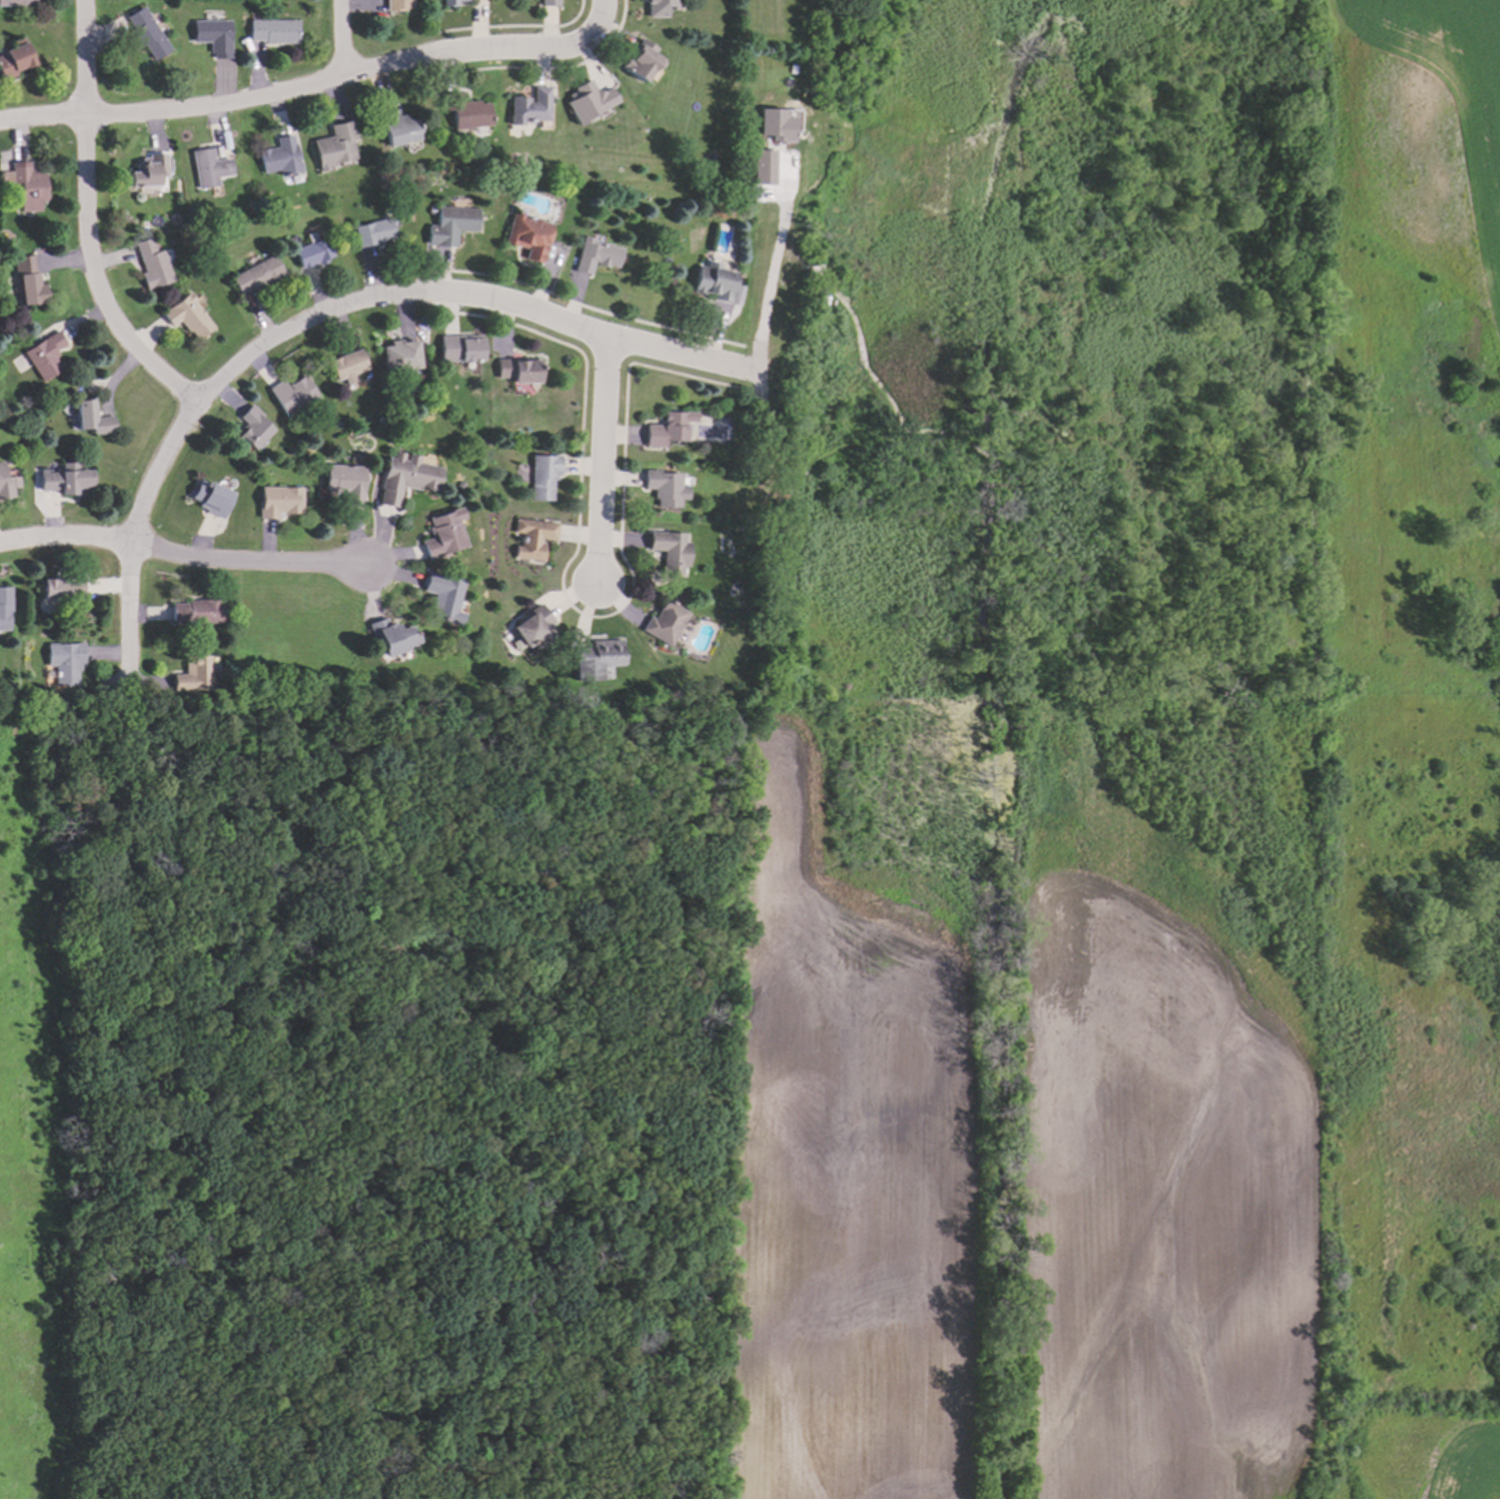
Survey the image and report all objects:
building: (17, 1)
building: (447, 3)
building: (546, 3)
building: (397, 4)
building: (652, 6)
building: (271, 29)
building: (146, 33)
building: (213, 35)
road: (339, 36)
building: (15, 57)
building: (637, 58)
road: (313, 81)
building: (586, 101)
building: (527, 104)
building: (465, 111)
building: (775, 125)
building: (393, 126)
building: (332, 145)
building: (275, 156)
building: (205, 167)
building: (763, 168)
building: (145, 171)
building: (28, 186)
building: (679, 207)
road: (91, 222)
building: (448, 225)
building: (369, 232)
building: (525, 235)
building: (308, 249)
building: (595, 253)
building: (150, 264)
building: (258, 272)
building: (712, 280)
building: (26, 284)
road: (767, 287)
building: (184, 315)
road: (321, 317)
building: (462, 348)
building: (42, 355)
building: (397, 357)
building: (346, 363)
building: (521, 371)
building: (27, 372)
building: (291, 395)
building: (64, 407)
building: (87, 415)
building: (667, 426)
building: (252, 427)
road: (606, 463)
building: (545, 474)
building: (404, 476)
building: (66, 479)
building: (345, 482)
building: (4, 484)
building: (664, 486)
building: (210, 497)
building: (277, 500)
building: (443, 534)
building: (533, 537)
building: (668, 549)
road: (184, 555)
building: (59, 588)
building: (441, 597)
building: (6, 607)
building: (197, 610)
building: (663, 620)
building: (533, 627)
building: (388, 636)
building: (595, 657)
building: (64, 660)
building: (47, 674)
building: (191, 674)

